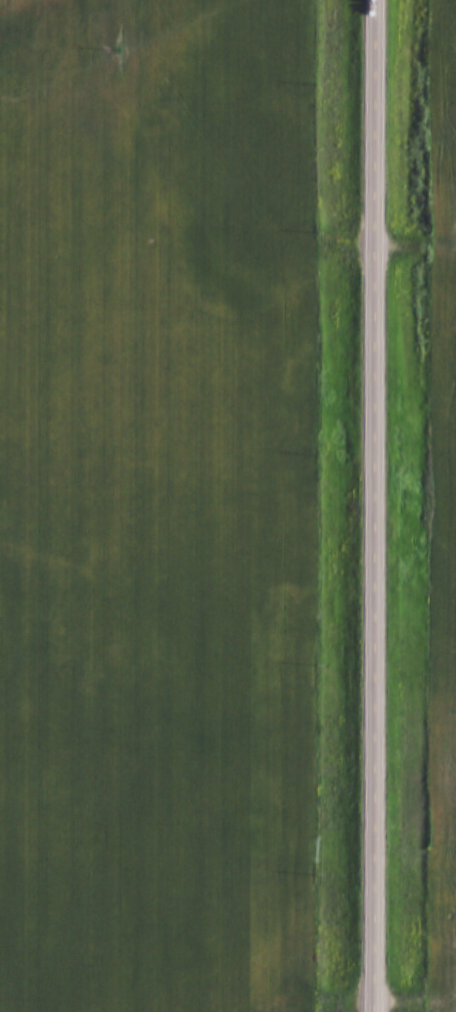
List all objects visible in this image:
road: (373, 505)

